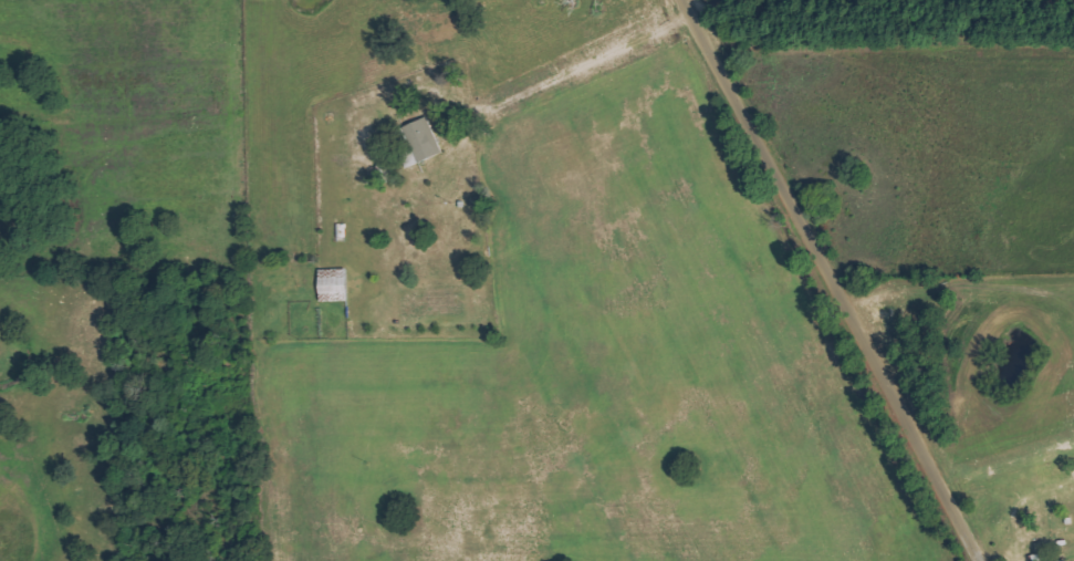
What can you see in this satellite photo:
building: (425, 138)
road: (828, 280)
building: (334, 284)
building: (1041, 557)
building: (1066, 560)

